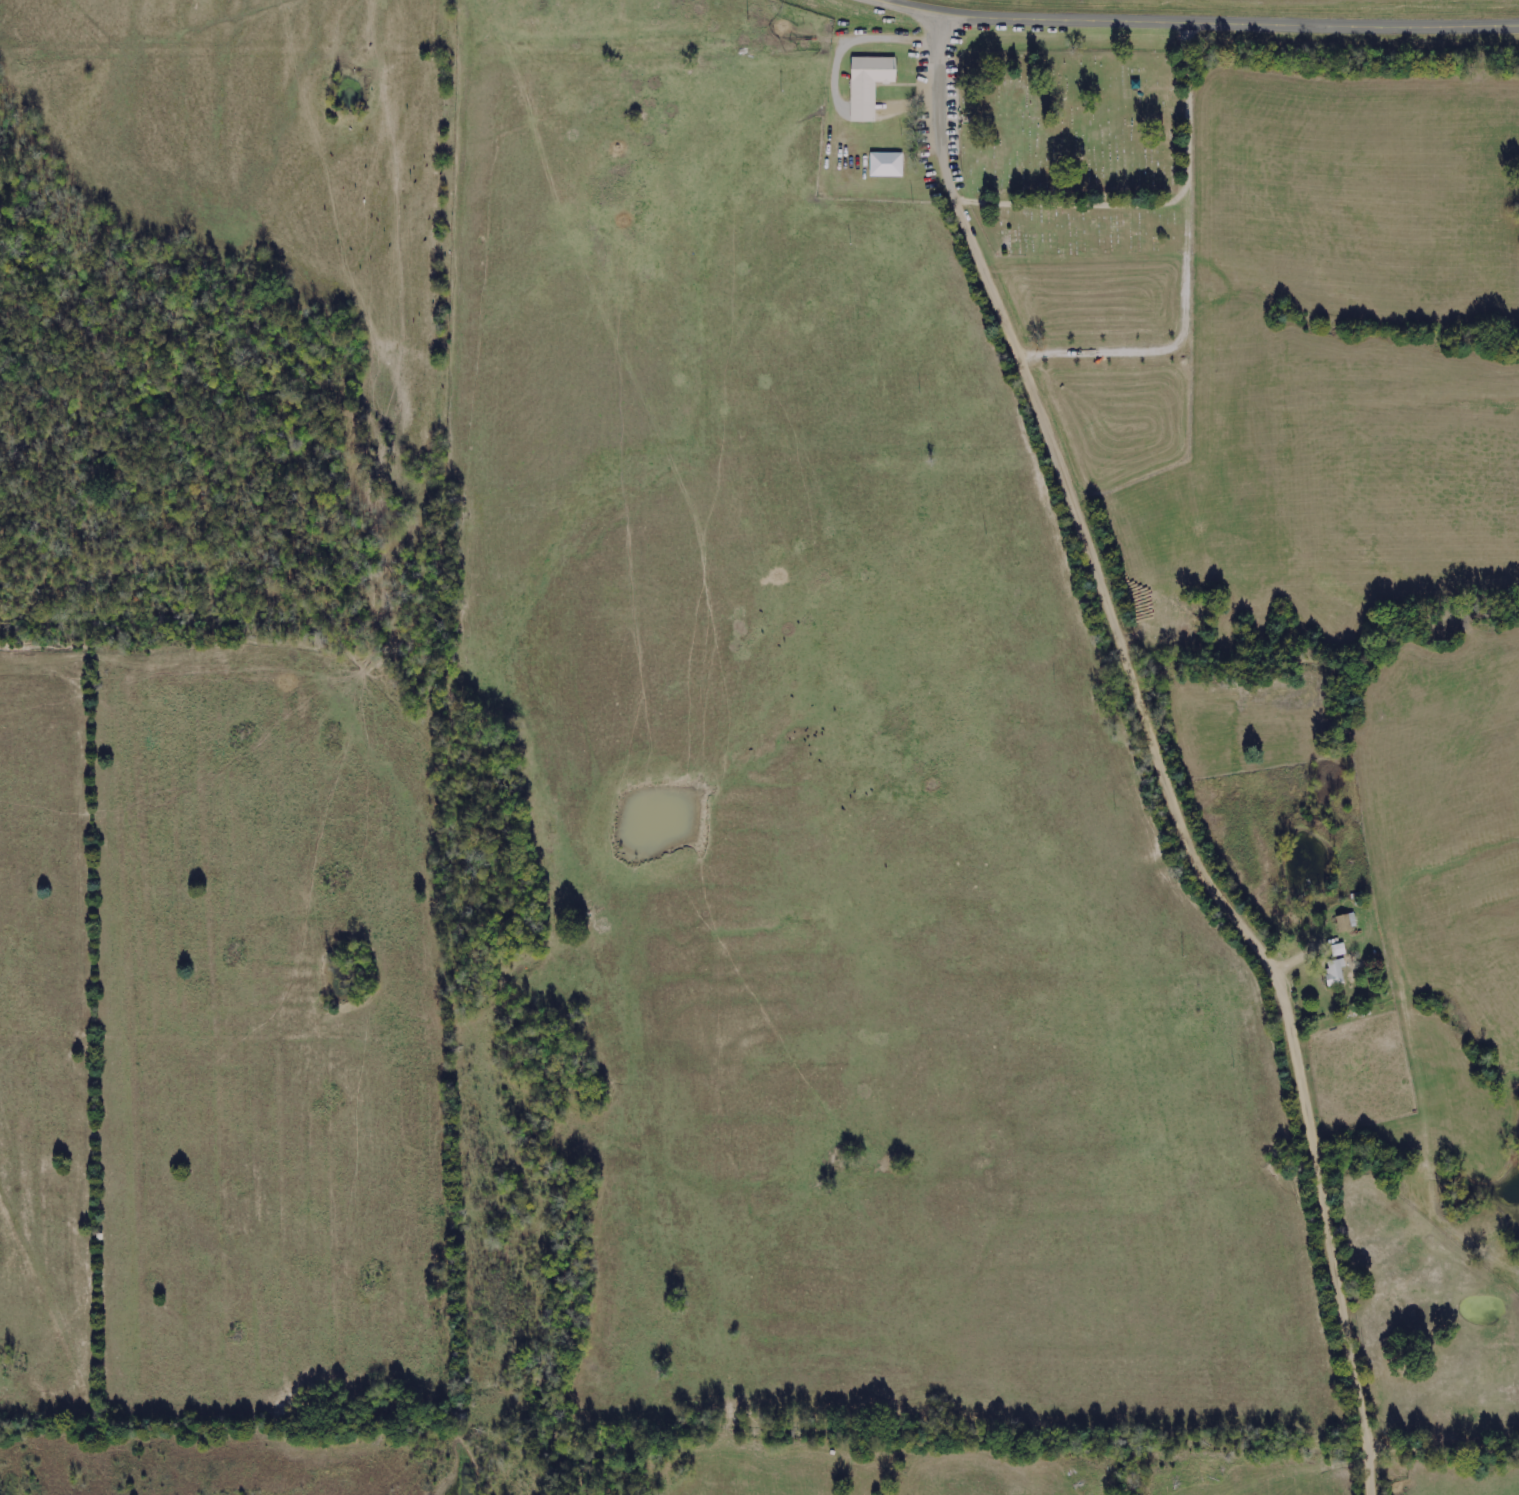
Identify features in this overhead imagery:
road: (1203, 22)
building: (868, 84)
park: (1079, 151)
building: (886, 164)
road: (445, 521)
road: (1170, 749)
building: (1346, 921)
building: (1338, 949)
building: (1335, 971)

